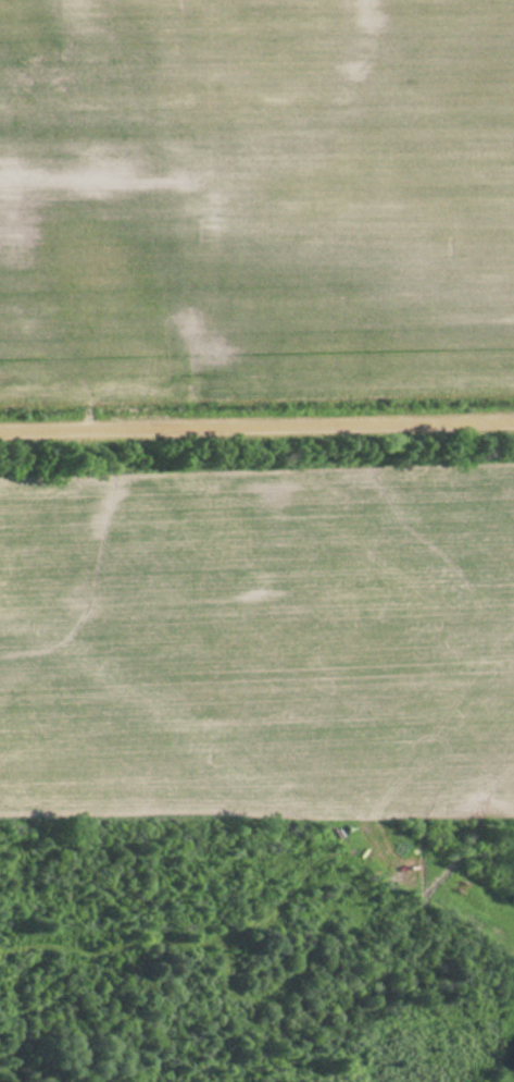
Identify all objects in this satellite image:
road: (256, 431)

